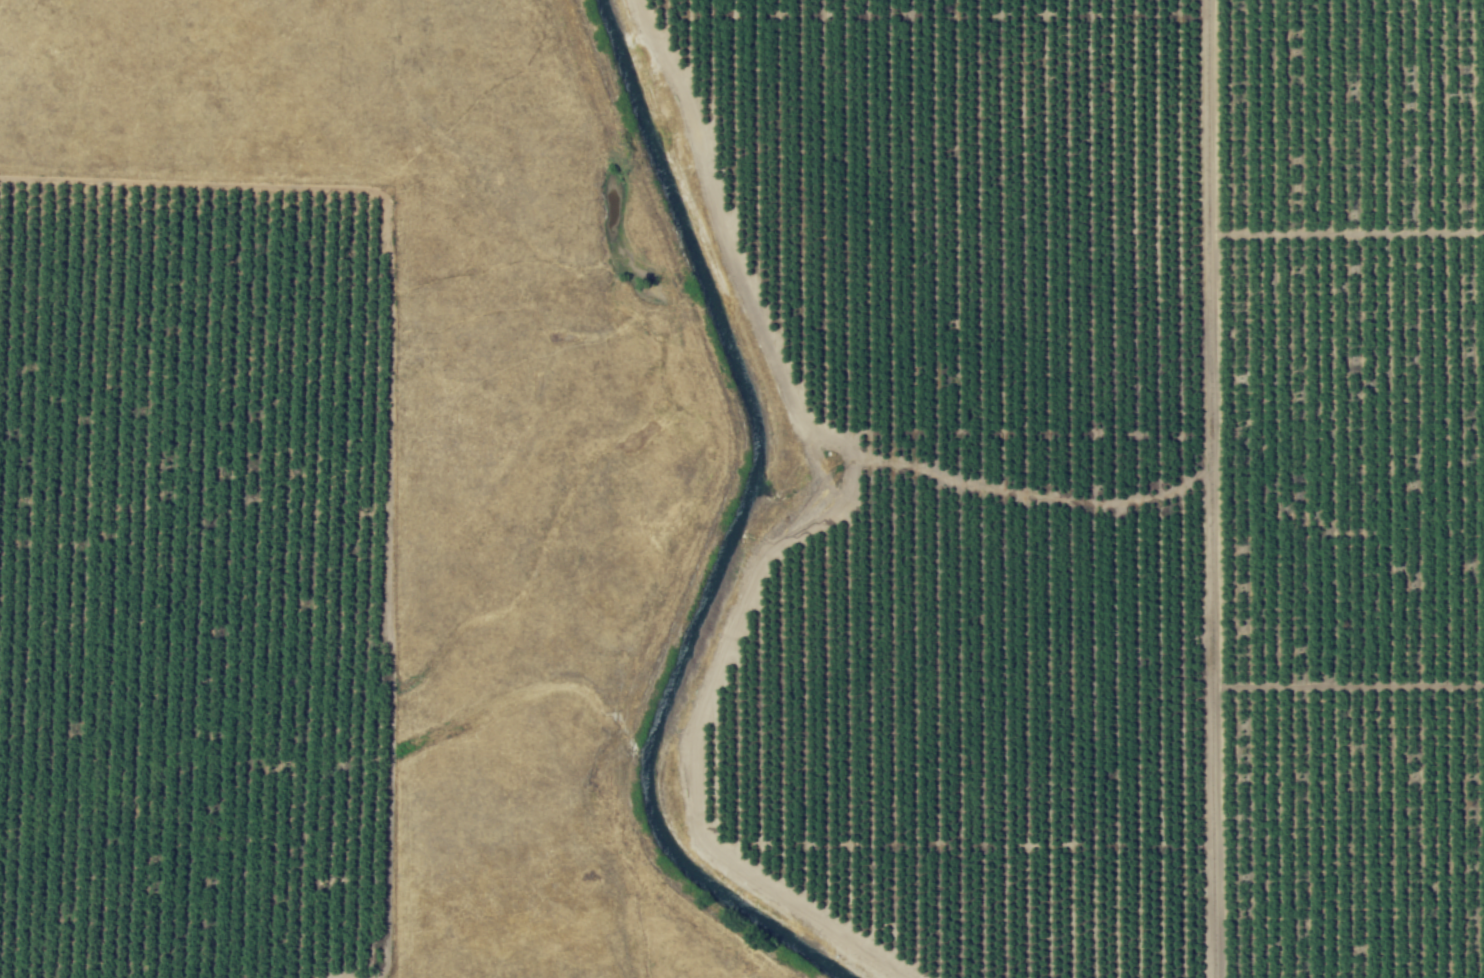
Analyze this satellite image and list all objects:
crop: (1114, 478)
road: (342, 977)

